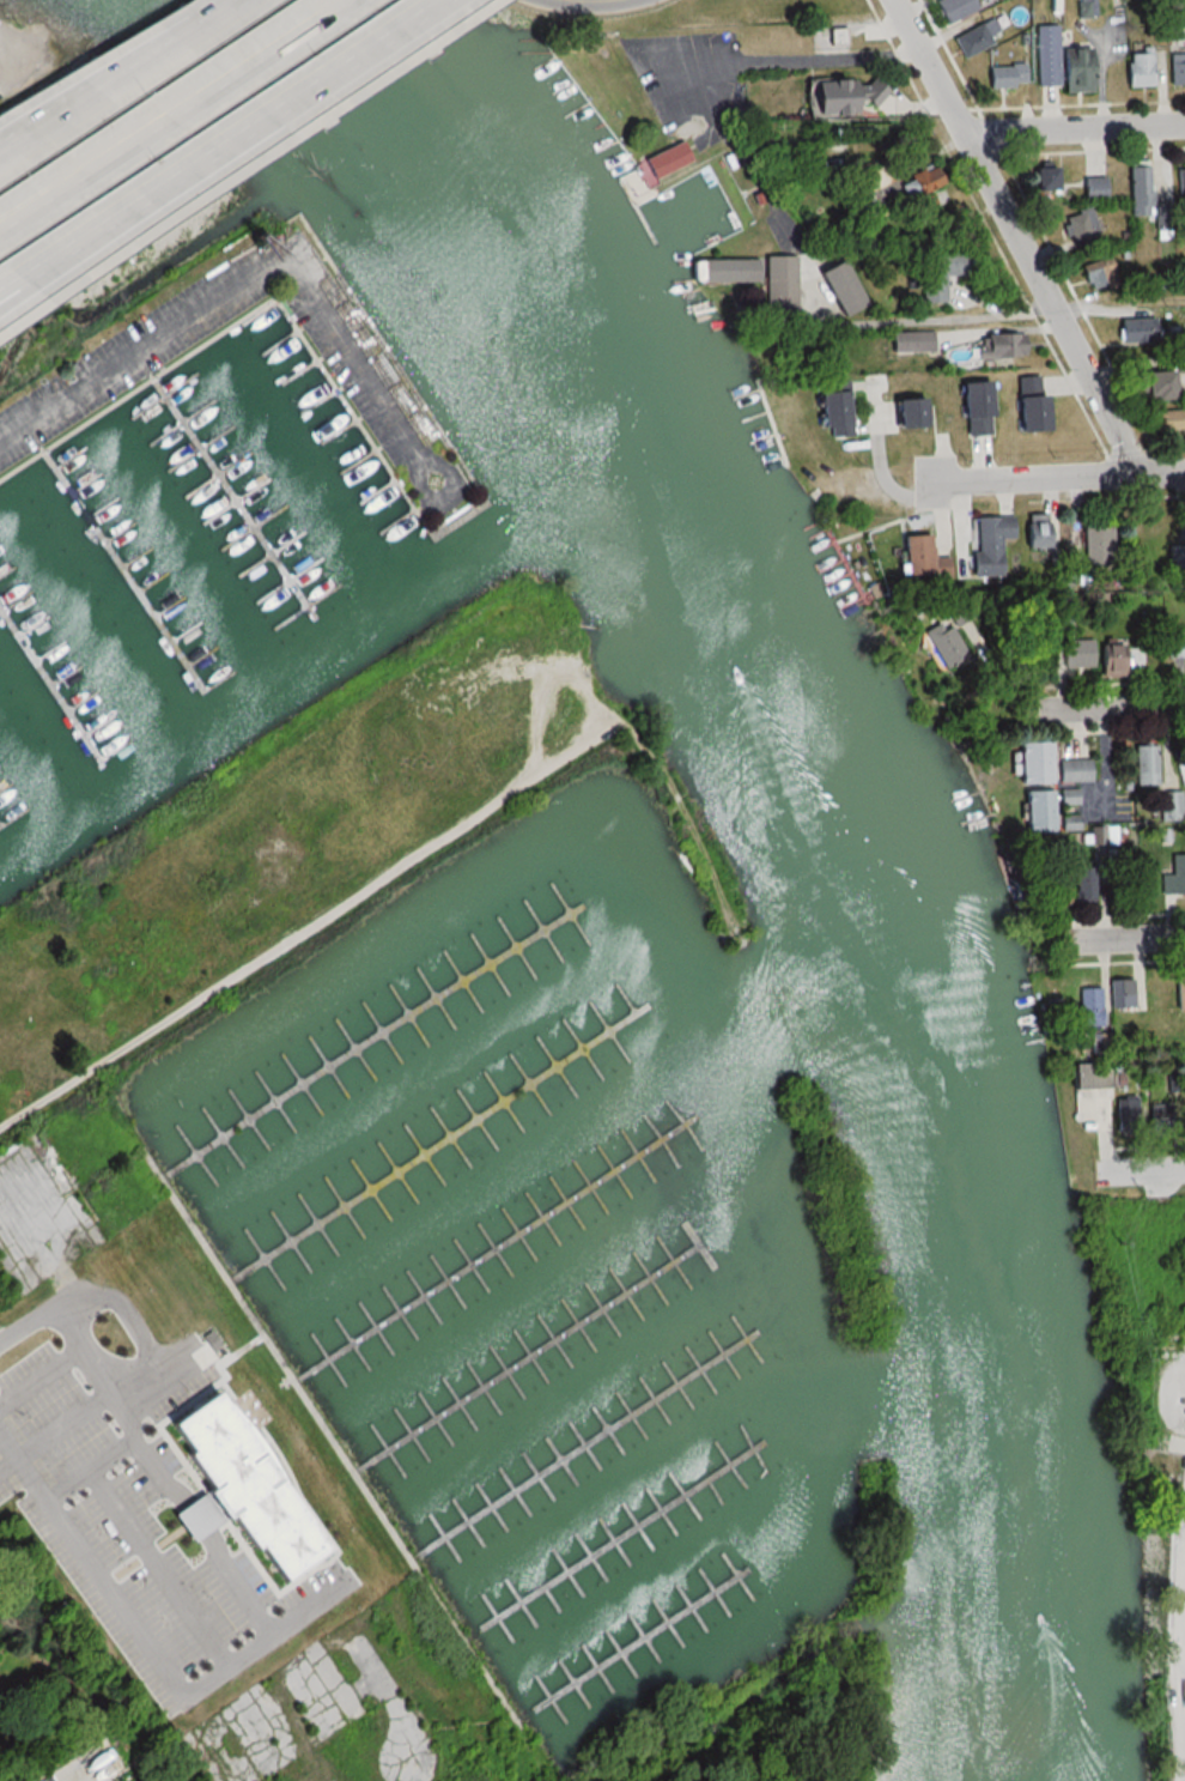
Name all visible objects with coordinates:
road: (600, 0)
park: (2, 1)
building: (953, 8)
road: (5, 26)
building: (974, 37)
building: (1059, 62)
building: (1175, 68)
building: (1137, 69)
building: (1004, 75)
road: (133, 87)
building: (837, 96)
road: (171, 114)
road: (1074, 132)
road: (48, 139)
road: (218, 147)
building: (664, 159)
road: (758, 178)
building: (1040, 178)
building: (1180, 178)
building: (913, 188)
building: (1093, 188)
building: (1138, 189)
building: (1080, 225)
road: (1015, 237)
road: (265, 262)
building: (725, 269)
building: (1096, 272)
building: (937, 274)
building: (778, 284)
building: (839, 287)
road: (1118, 303)
building: (1136, 331)
building: (907, 341)
building: (997, 345)
building: (1163, 382)
building: (1028, 402)
building: (972, 407)
building: (831, 408)
building: (906, 412)
building: (1169, 420)
road: (1055, 478)
pier: (230, 495)
building: (1035, 529)
building: (987, 543)
building: (1089, 553)
building: (918, 558)
pier: (120, 563)
building: (958, 612)
building: (941, 643)
building: (1175, 643)
building: (1075, 653)
building: (1110, 660)
pier: (50, 683)
road: (1114, 704)
building: (1032, 762)
building: (1144, 764)
building: (1072, 770)
river: (826, 795)
building: (1066, 795)
building: (1171, 805)
building: (1035, 811)
building: (1068, 822)
pier: (0, 826)
building: (1106, 834)
building: (1174, 876)
building: (1080, 885)
road: (1136, 939)
building: (1120, 993)
building: (1179, 993)
building: (1084, 1010)
pier: (377, 1035)
building: (1084, 1077)
building: (1124, 1115)
building: (1156, 1119)
pier: (440, 1140)
road: (1178, 1162)
pier: (499, 1243)
road: (30, 1325)
building: (199, 1349)
road: (164, 1351)
pier: (528, 1356)
pier: (587, 1442)
building: (249, 1490)
pier: (614, 1540)
pier: (631, 1648)
road: (213, 1667)
building: (327, 1779)

